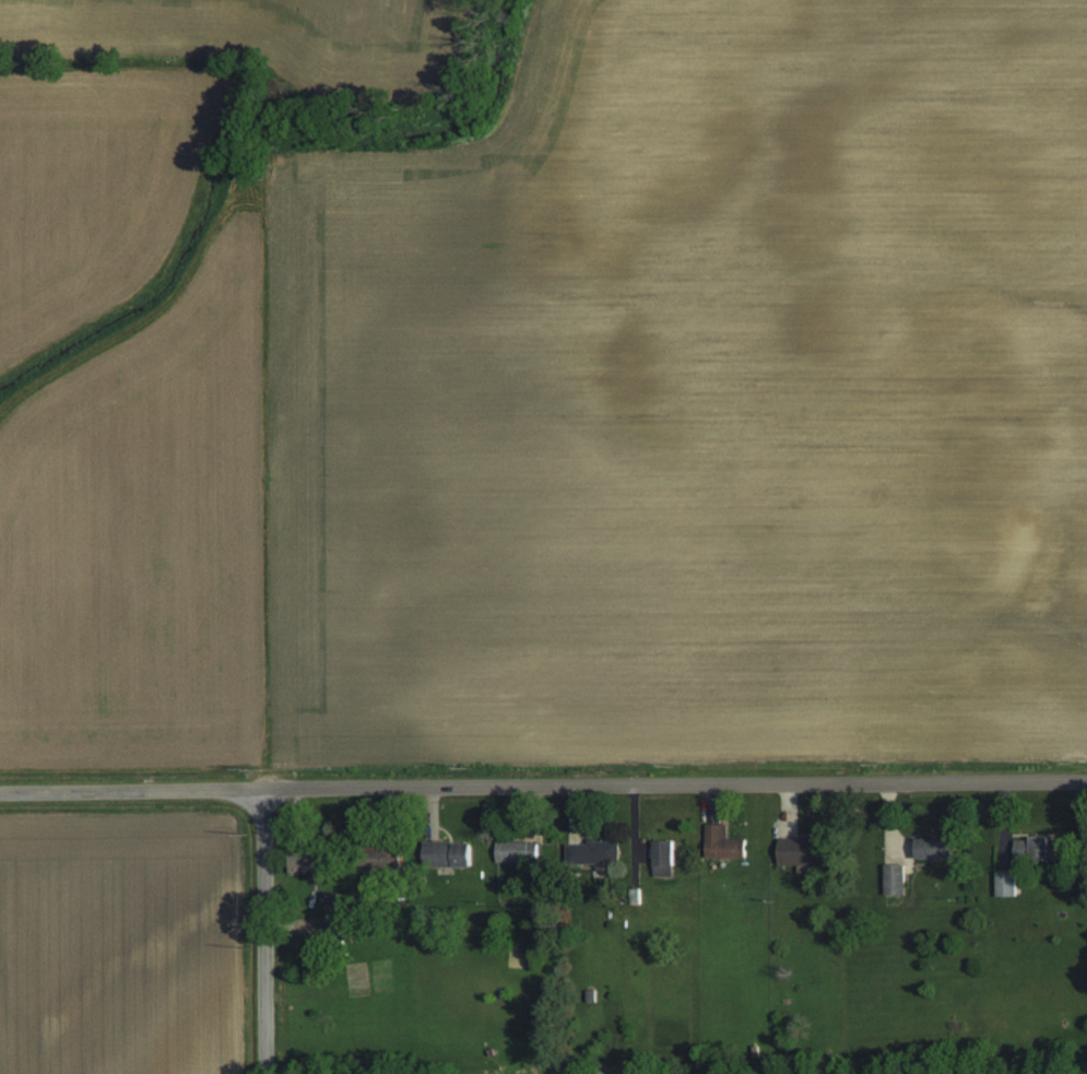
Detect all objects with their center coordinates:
road: (543, 788)
building: (723, 842)
building: (936, 847)
building: (1039, 848)
building: (512, 850)
building: (595, 851)
building: (449, 852)
building: (806, 852)
building: (664, 857)
building: (895, 877)
building: (1006, 883)
building: (331, 924)
road: (261, 932)

